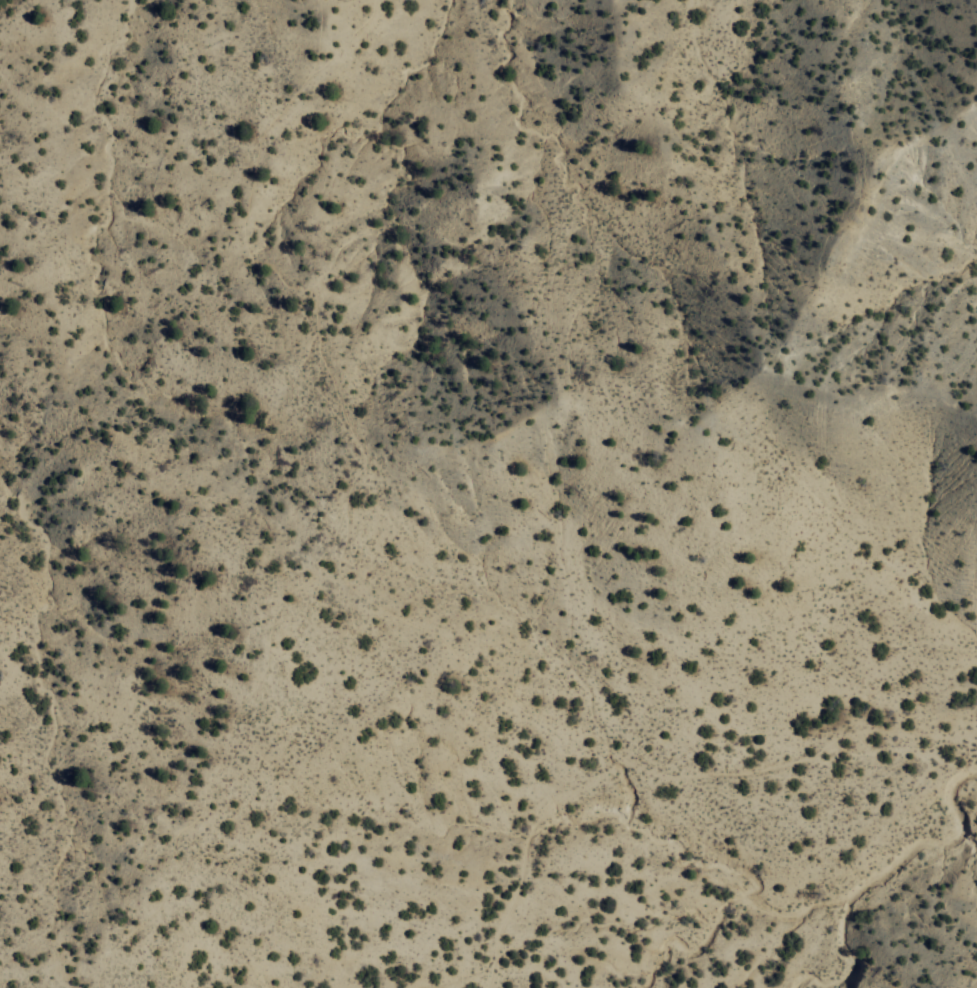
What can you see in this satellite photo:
road: (662, 770)

